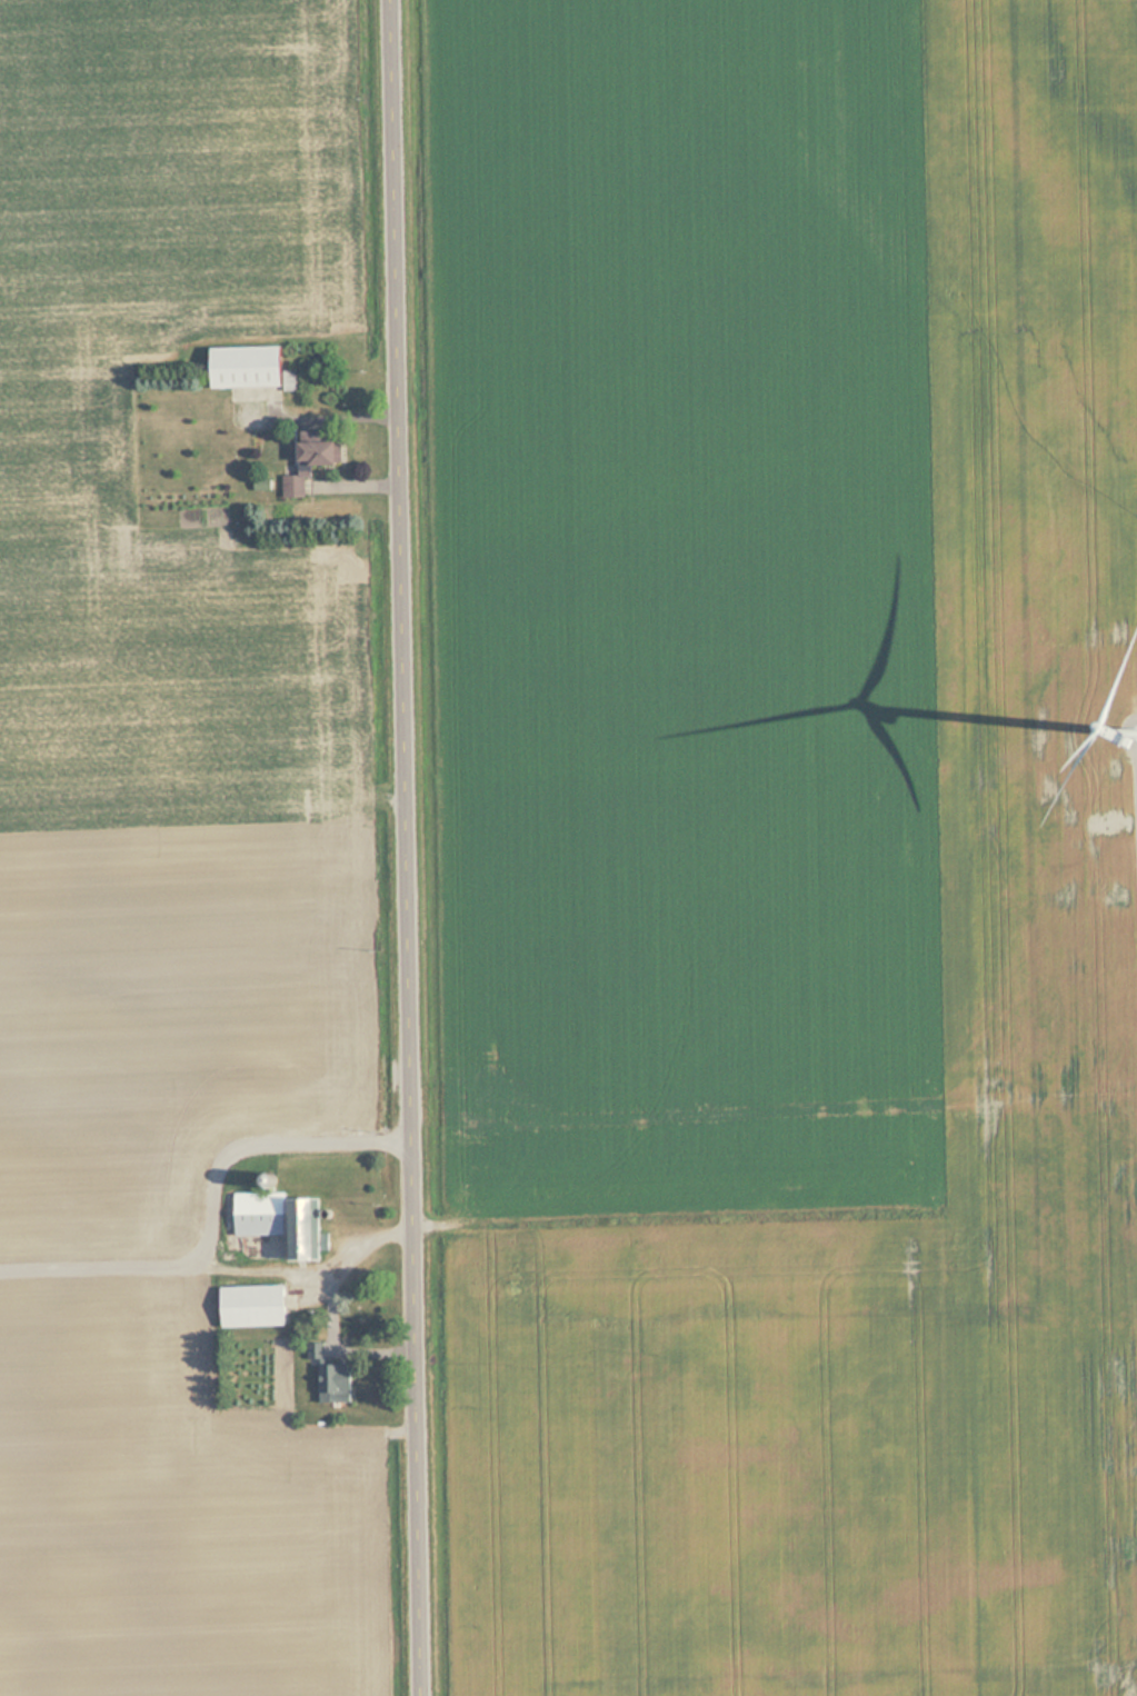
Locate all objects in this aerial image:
building: (253, 366)
building: (317, 459)
wind turbine: (1127, 724)
road: (410, 848)
building: (286, 1221)
building: (256, 1306)
building: (318, 1350)
building: (339, 1379)

